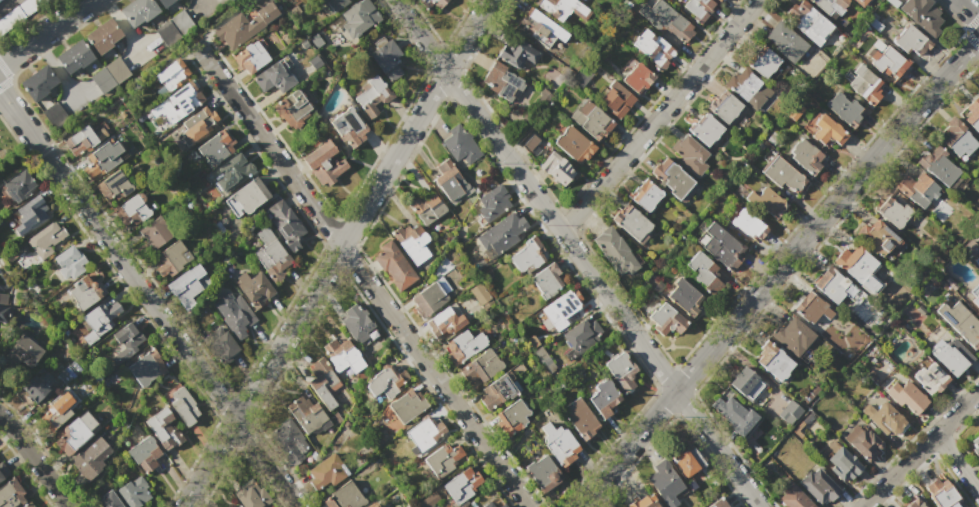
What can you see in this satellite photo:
building: (718, 0)
road: (2, 2)
road: (203, 2)
building: (861, 2)
building: (892, 2)
building: (163, 3)
building: (30, 5)
building: (331, 5)
building: (432, 5)
road: (202, 6)
building: (831, 7)
building: (697, 9)
building: (136, 11)
road: (967, 11)
building: (564, 12)
building: (923, 15)
building: (357, 18)
building: (10, 19)
building: (666, 20)
building: (807, 22)
building: (245, 23)
building: (873, 23)
road: (122, 26)
building: (173, 27)
building: (541, 30)
road: (45, 33)
building: (103, 36)
building: (911, 40)
building: (784, 41)
building: (653, 47)
road: (140, 52)
building: (517, 55)
building: (251, 56)
building: (74, 58)
building: (389, 60)
building: (763, 62)
building: (888, 62)
road: (56, 68)
building: (169, 73)
building: (108, 74)
building: (582, 76)
building: (635, 77)
building: (273, 80)
building: (742, 82)
building: (38, 83)
building: (505, 84)
building: (865, 85)
road: (75, 97)
building: (371, 97)
building: (615, 99)
building: (180, 102)
building: (723, 106)
building: (842, 107)
building: (290, 108)
building: (530, 112)
building: (795, 112)
building: (54, 114)
building: (971, 115)
road: (660, 116)
building: (591, 119)
building: (195, 125)
building: (349, 128)
building: (705, 129)
building: (826, 133)
building: (957, 139)
building: (79, 141)
building: (459, 145)
building: (534, 145)
building: (573, 145)
building: (215, 148)
park: (10, 153)
building: (687, 153)
building: (806, 157)
building: (100, 160)
building: (325, 163)
building: (938, 165)
building: (556, 170)
building: (230, 171)
building: (783, 177)
building: (670, 179)
building: (448, 180)
building: (18, 186)
building: (113, 187)
building: (916, 188)
building: (644, 195)
building: (247, 197)
building: (764, 202)
building: (491, 203)
building: (426, 206)
building: (893, 211)
building: (132, 212)
building: (27, 216)
building: (631, 223)
building: (285, 224)
building: (746, 225)
building: (502, 233)
building: (155, 234)
building: (47, 238)
building: (410, 238)
building: (878, 240)
building: (719, 246)
building: (969, 248)
building: (267, 251)
road: (334, 252)
building: (613, 252)
road: (577, 253)
building: (526, 256)
building: (170, 259)
building: (67, 262)
building: (854, 262)
building: (392, 266)
road: (776, 271)
road: (361, 273)
building: (704, 275)
building: (546, 281)
building: (188, 284)
building: (831, 286)
building: (253, 287)
building: (86, 290)
building: (479, 294)
building: (432, 297)
road: (149, 299)
building: (687, 300)
building: (976, 300)
building: (564, 308)
building: (811, 310)
building: (103, 314)
building: (3, 315)
building: (237, 315)
building: (666, 320)
building: (444, 322)
building: (960, 322)
building: (356, 323)
building: (583, 336)
building: (792, 336)
building: (122, 343)
building: (222, 345)
building: (463, 345)
building: (22, 353)
building: (950, 354)
building: (341, 357)
building: (771, 361)
building: (480, 368)
building: (146, 369)
building: (622, 371)
building: (931, 379)
building: (387, 381)
building: (323, 382)
building: (744, 384)
building: (36, 390)
building: (495, 393)
building: (604, 398)
building: (905, 398)
building: (183, 406)
building: (406, 406)
building: (791, 409)
building: (732, 413)
building: (53, 415)
building: (308, 415)
building: (882, 416)
building: (512, 419)
building: (579, 420)
building: (164, 429)
building: (424, 432)
building: (75, 433)
building: (289, 441)
building: (558, 442)
building: (862, 443)
building: (974, 446)
road: (920, 449)
building: (145, 454)
building: (91, 459)
building: (443, 459)
road: (958, 460)
road: (34, 461)
building: (841, 466)
building: (689, 468)
building: (2, 472)
building: (324, 473)
building: (541, 473)
building: (665, 484)
building: (817, 486)
building: (459, 488)
building: (136, 493)
building: (11, 494)
building: (251, 494)
building: (343, 497)
building: (790, 498)
building: (945, 498)
building: (107, 501)
building: (642, 501)
building: (493, 503)
building: (718, 503)
building: (915, 504)
building: (26, 505)
building: (370, 505)

